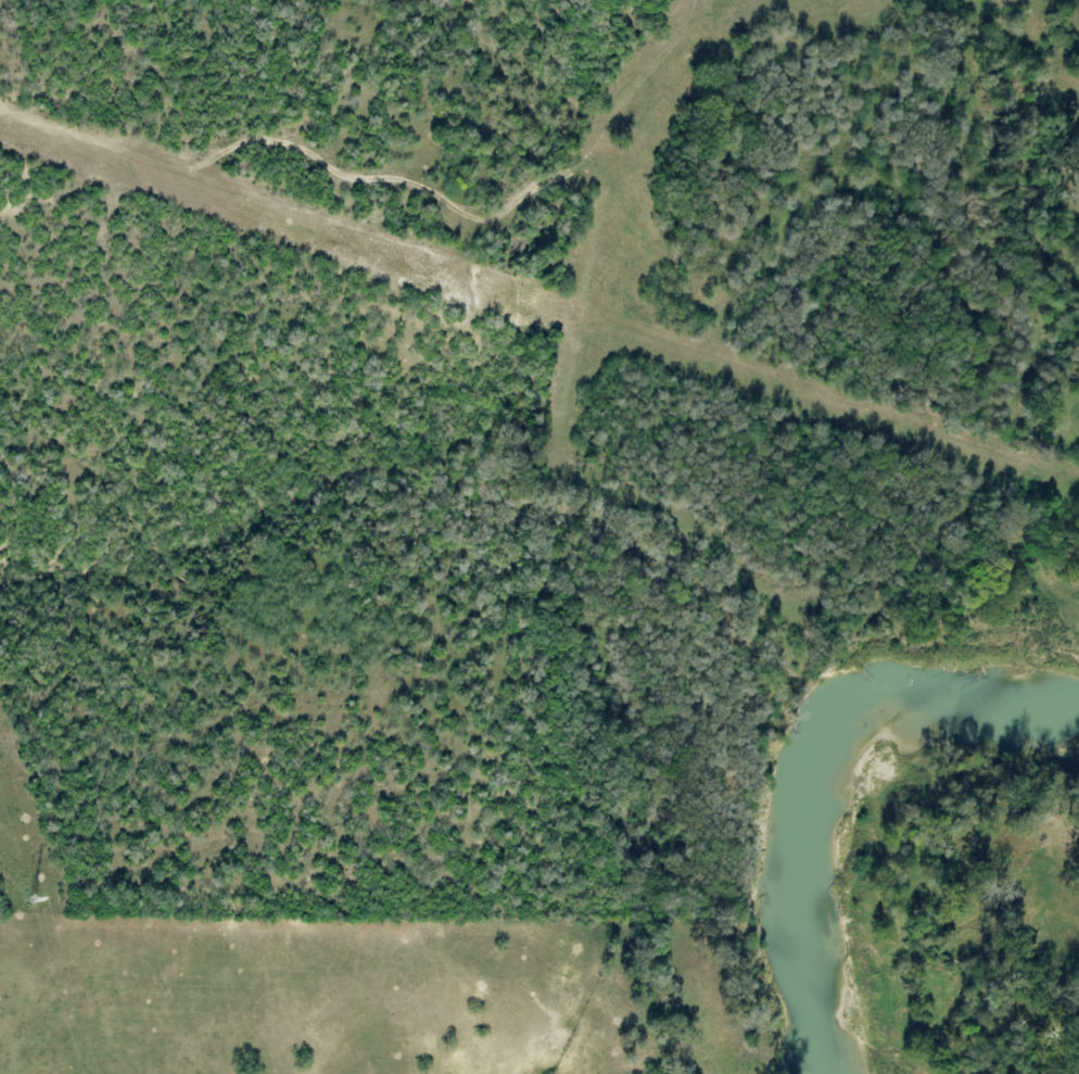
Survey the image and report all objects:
river: (838, 801)
power tower: (29, 900)

